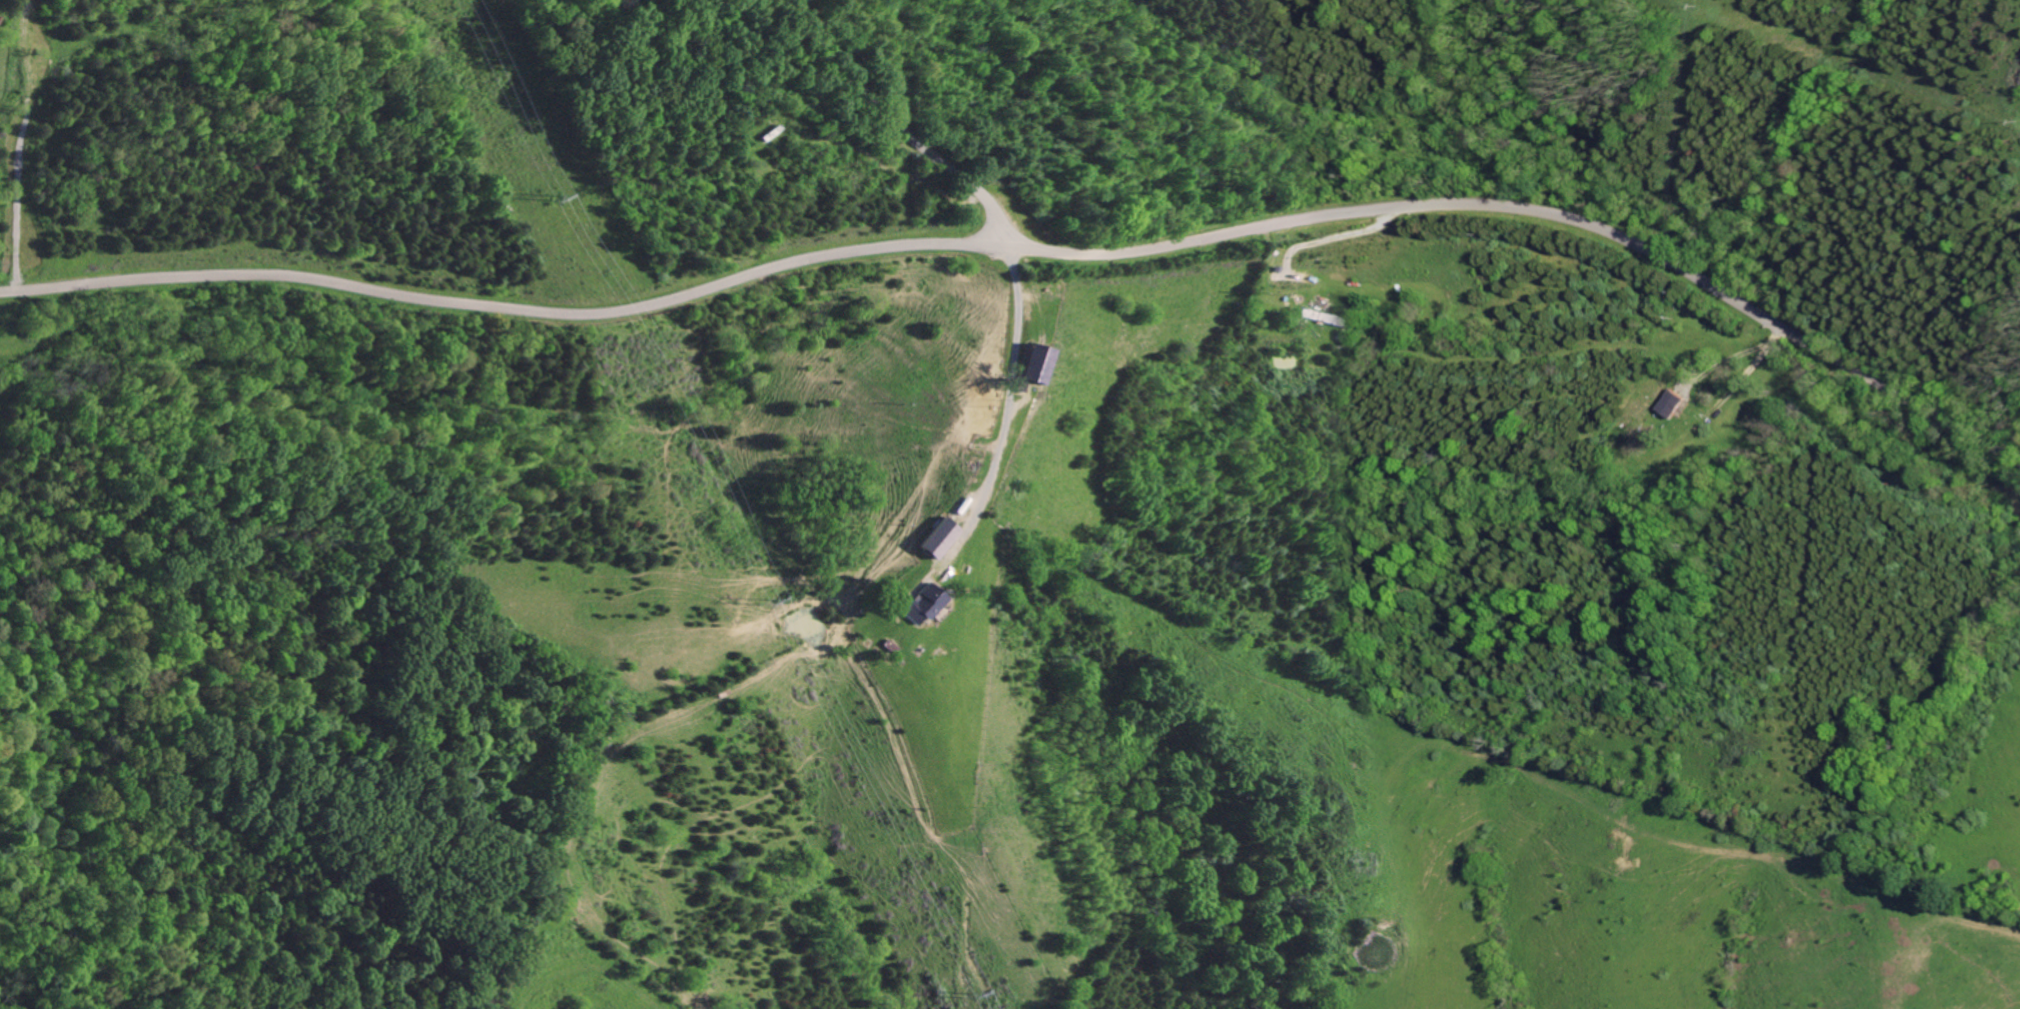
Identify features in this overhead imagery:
road: (897, 129)
road: (795, 261)
building: (1316, 315)
road: (1805, 342)
building: (1037, 364)
building: (1024, 366)
building: (1670, 402)
road: (1001, 414)
building: (951, 512)
building: (938, 538)
building: (915, 604)
building: (883, 646)

